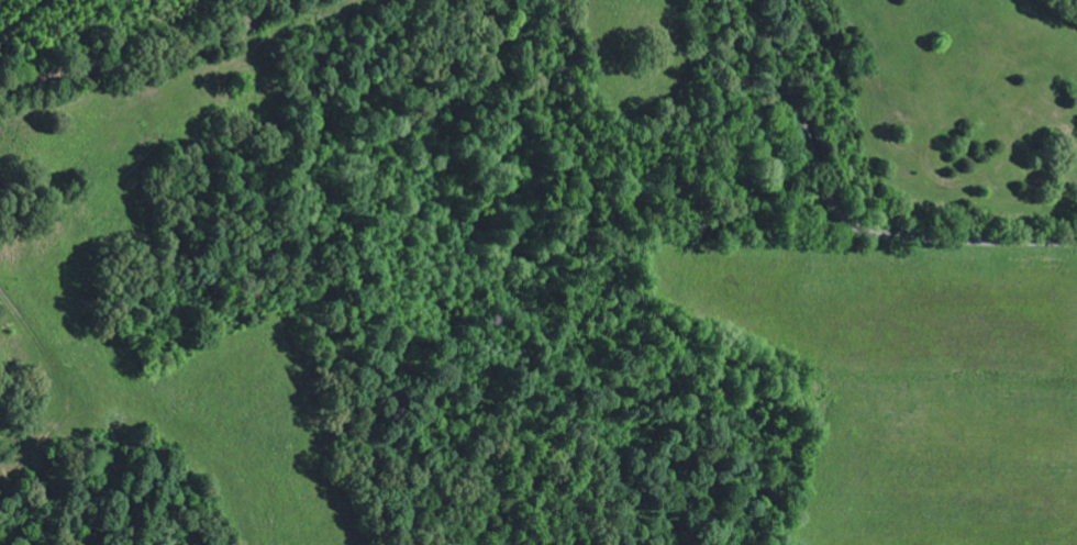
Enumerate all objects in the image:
road: (145, 58)
road: (265, 107)
road: (842, 222)
road: (49, 480)

